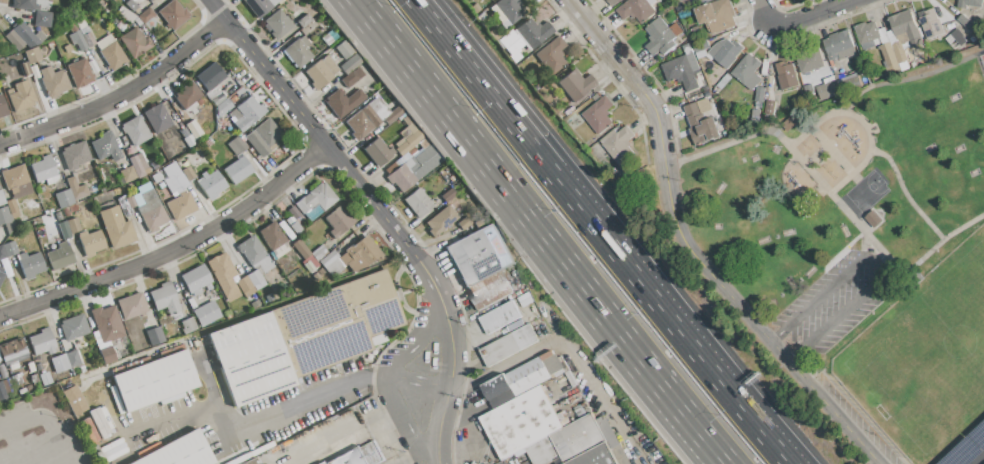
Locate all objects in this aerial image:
building: (149, 0)
building: (151, 0)
building: (697, 0)
building: (651, 1)
building: (272, 2)
building: (612, 2)
building: (968, 3)
building: (26, 4)
building: (129, 4)
building: (257, 6)
building: (143, 7)
building: (475, 9)
building: (636, 9)
building: (507, 11)
road: (766, 12)
road: (807, 12)
building: (685, 14)
building: (126, 15)
building: (173, 15)
building: (716, 15)
building: (146, 16)
building: (481, 16)
building: (43, 19)
building: (304, 21)
road: (588, 22)
building: (930, 23)
building: (966, 23)
building: (278, 25)
building: (695, 28)
building: (142, 29)
building: (675, 29)
building: (86, 33)
building: (532, 33)
building: (25, 35)
building: (659, 36)
building: (329, 37)
building: (904, 37)
building: (959, 37)
building: (14, 40)
building: (78, 40)
building: (135, 43)
building: (511, 44)
building: (700, 45)
building: (838, 45)
building: (686, 47)
building: (885, 48)
building: (343, 50)
building: (725, 51)
building: (299, 52)
building: (551, 55)
building: (33, 56)
building: (113, 56)
building: (692, 61)
building: (809, 61)
building: (350, 64)
building: (329, 66)
building: (24, 69)
building: (360, 71)
building: (680, 71)
building: (747, 71)
building: (34, 72)
building: (80, 74)
building: (786, 74)
building: (318, 75)
building: (210, 77)
building: (349, 79)
building: (54, 82)
building: (225, 82)
building: (849, 83)
building: (575, 85)
road: (505, 88)
building: (808, 88)
building: (827, 89)
road: (488, 93)
building: (759, 93)
building: (187, 96)
building: (215, 96)
building: (21, 97)
road: (120, 97)
building: (597, 97)
building: (343, 102)
building: (2, 107)
building: (222, 107)
building: (770, 107)
road: (823, 107)
building: (378, 109)
building: (248, 113)
building: (756, 113)
building: (181, 114)
building: (235, 114)
building: (598, 114)
building: (369, 116)
building: (157, 118)
building: (391, 118)
building: (405, 122)
building: (787, 123)
building: (700, 124)
building: (358, 125)
building: (230, 128)
building: (135, 130)
building: (194, 130)
building: (184, 133)
building: (267, 134)
building: (407, 139)
building: (190, 141)
building: (618, 142)
building: (257, 144)
building: (239, 145)
building: (105, 147)
building: (286, 151)
building: (378, 152)
building: (411, 152)
building: (75, 154)
building: (426, 159)
building: (139, 166)
building: (392, 168)
building: (413, 168)
building: (43, 169)
building: (238, 170)
building: (129, 174)
building: (162, 174)
building: (176, 174)
building: (189, 174)
building: (14, 177)
building: (156, 178)
building: (401, 178)
building: (172, 184)
building: (212, 184)
building: (144, 188)
building: (76, 189)
building: (21, 190)
building: (447, 195)
building: (64, 198)
building: (318, 198)
building: (2, 199)
building: (138, 200)
building: (131, 202)
building: (148, 202)
building: (418, 202)
building: (124, 206)
building: (11, 207)
building: (181, 207)
road: (380, 213)
building: (154, 218)
building: (873, 218)
building: (440, 219)
building: (6, 220)
building: (290, 221)
building: (338, 222)
building: (465, 222)
building: (73, 226)
building: (116, 227)
road: (673, 227)
building: (295, 228)
building: (286, 231)
road: (610, 231)
building: (65, 232)
road: (541, 232)
building: (272, 236)
road: (604, 236)
building: (91, 243)
park: (868, 247)
building: (9, 249)
building: (301, 249)
building: (251, 250)
building: (366, 250)
road: (173, 251)
building: (279, 251)
building: (2, 252)
building: (318, 253)
building: (477, 255)
building: (60, 256)
building: (353, 259)
building: (329, 262)
building: (31, 264)
building: (263, 264)
building: (308, 267)
road: (868, 267)
building: (338, 269)
building: (222, 271)
building: (320, 271)
building: (1, 274)
building: (316, 276)
building: (196, 279)
building: (256, 280)
building: (245, 284)
road: (424, 286)
building: (490, 289)
building: (230, 291)
building: (165, 298)
building: (269, 298)
building: (518, 303)
building: (256, 304)
building: (132, 306)
building: (206, 313)
building: (500, 317)
building: (336, 323)
building: (107, 324)
building: (188, 326)
building: (74, 327)
building: (526, 335)
building: (155, 337)
building: (378, 339)
building: (100, 341)
building: (42, 342)
road: (412, 344)
building: (501, 349)
road: (570, 349)
building: (13, 352)
building: (107, 355)
building: (251, 358)
building: (73, 359)
building: (60, 364)
building: (30, 366)
road: (376, 376)
building: (528, 376)
road: (715, 376)
building: (35, 378)
building: (18, 379)
building: (45, 379)
building: (154, 382)
road: (417, 383)
building: (7, 386)
building: (496, 386)
building: (2, 390)
building: (22, 391)
building: (74, 400)
road: (293, 404)
road: (216, 418)
road: (44, 419)
road: (166, 420)
road: (404, 421)
building: (99, 422)
building: (521, 422)
road: (842, 422)
building: (578, 437)
road: (342, 438)
building: (92, 443)
road: (17, 445)
building: (542, 451)
building: (180, 452)
building: (371, 453)
building: (596, 456)
building: (350, 457)
road: (976, 457)
building: (253, 462)
building: (322, 463)

